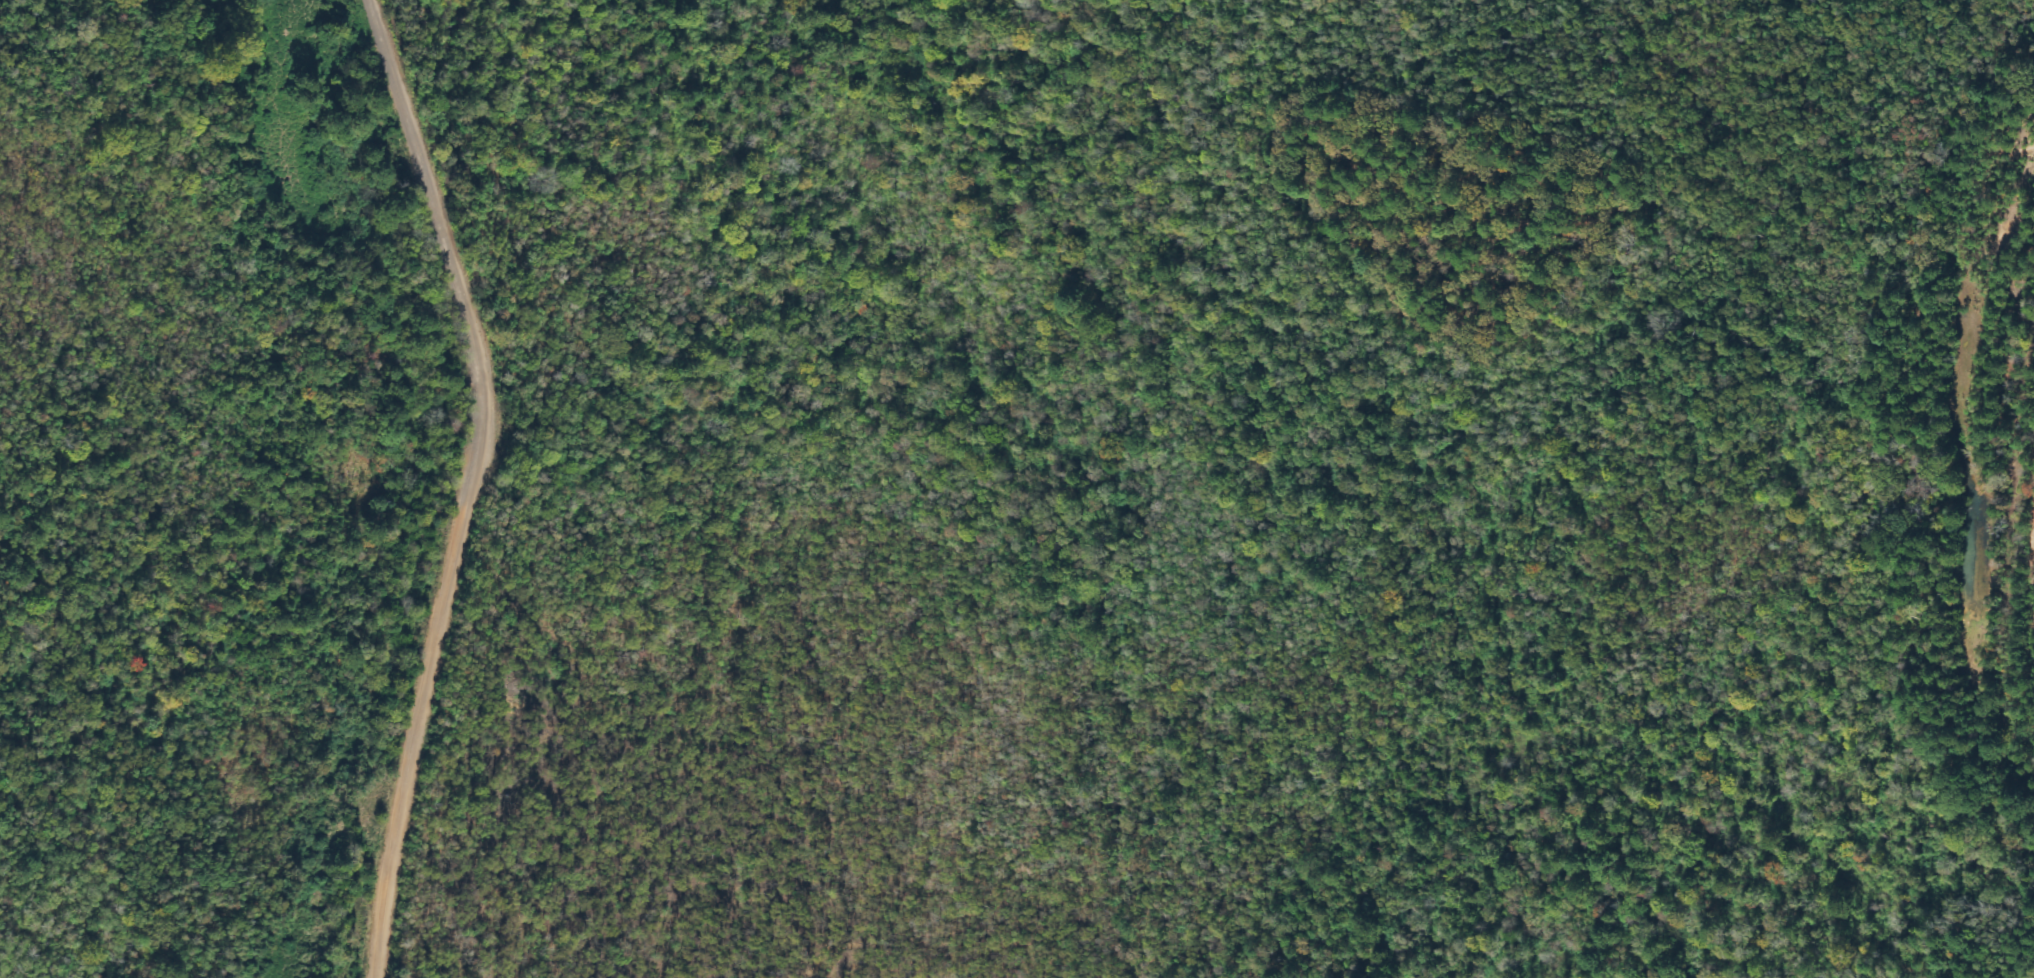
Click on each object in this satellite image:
road: (480, 484)

